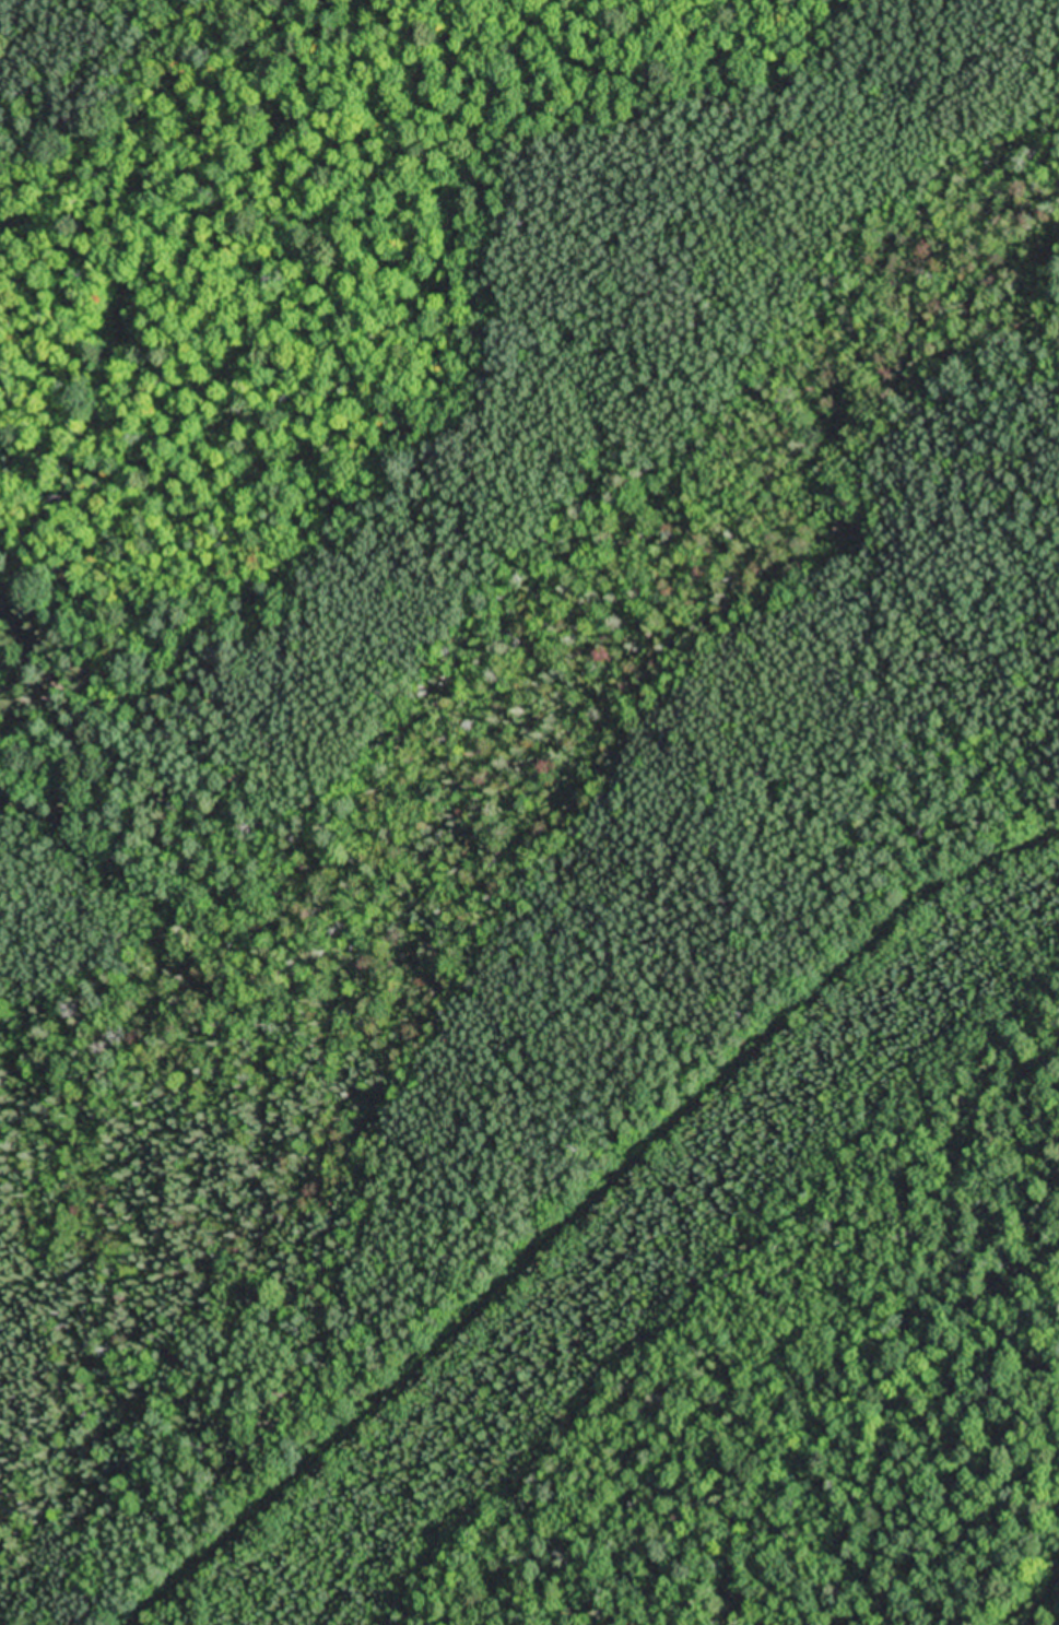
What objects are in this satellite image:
road: (554, 1208)

